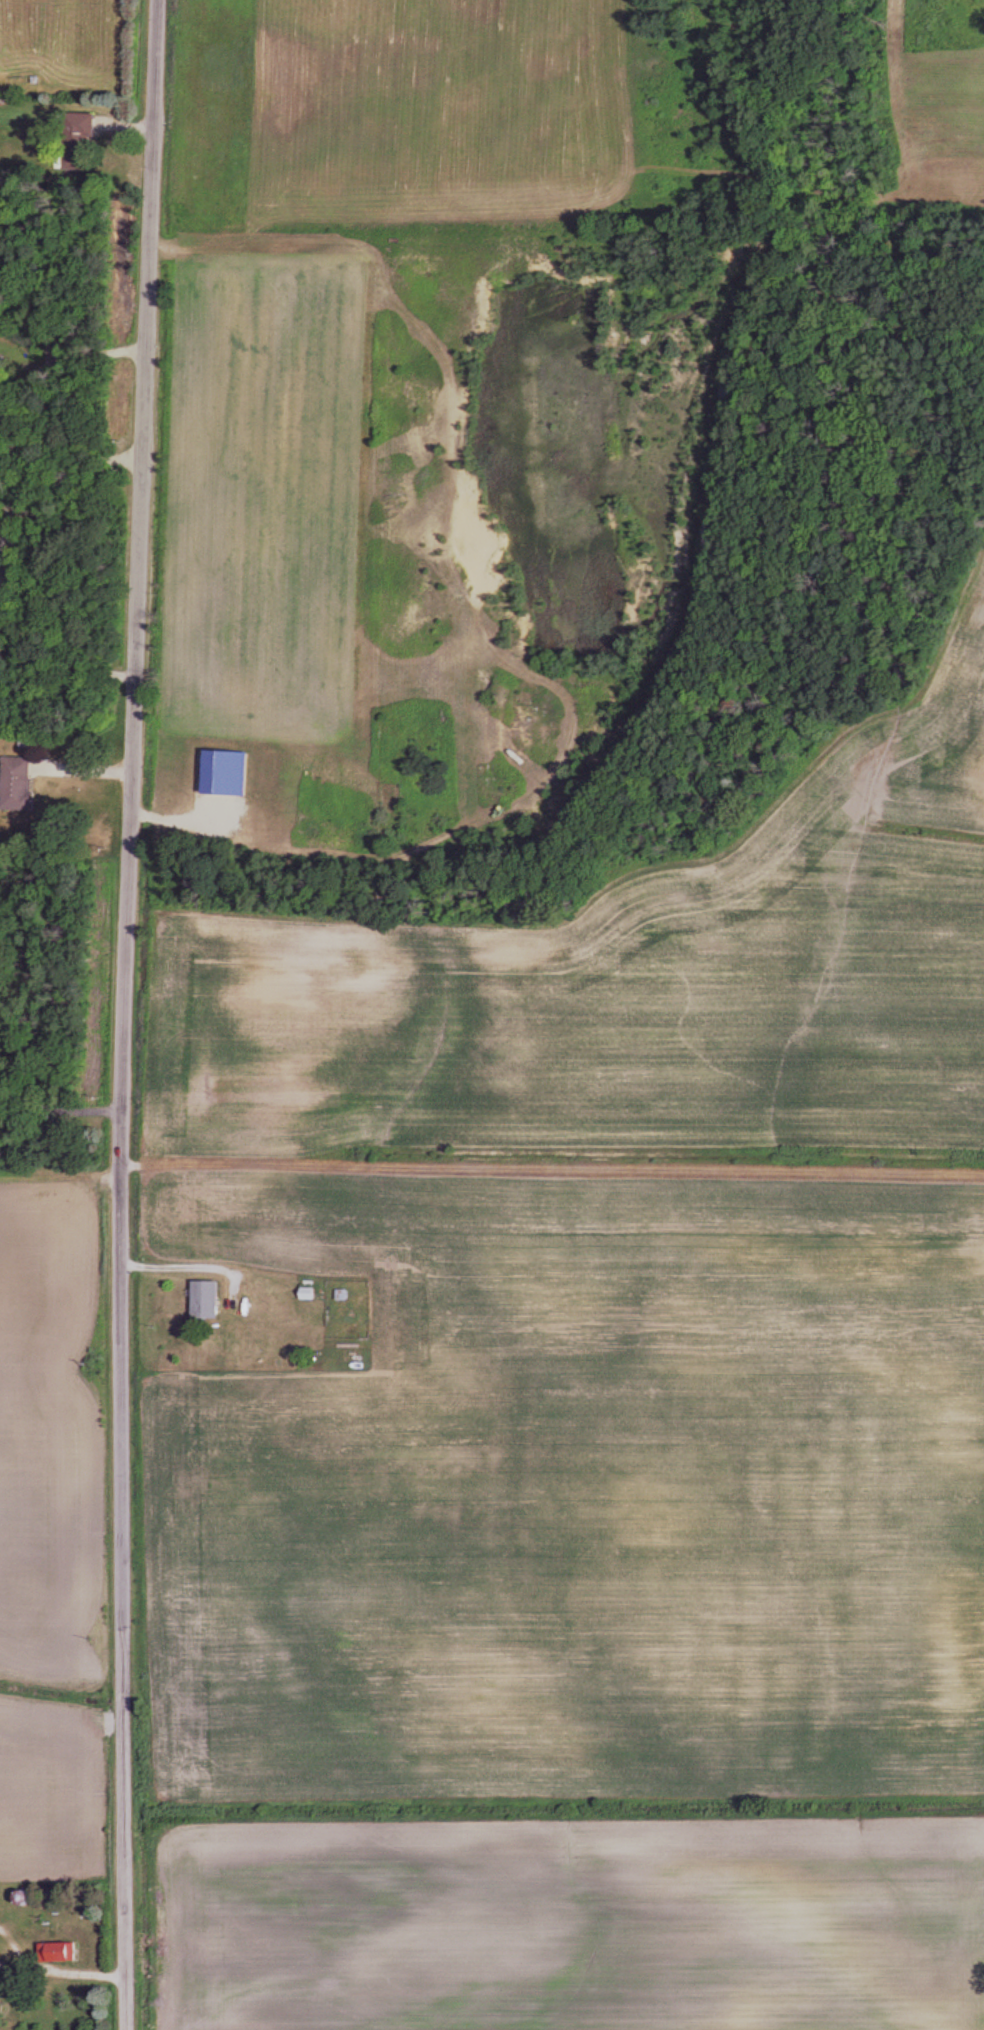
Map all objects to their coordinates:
building: (87, 128)
road: (58, 466)
building: (23, 785)
road: (130, 1014)
road: (62, 1108)
building: (310, 1293)
building: (344, 1295)
building: (209, 1300)
building: (65, 1950)

